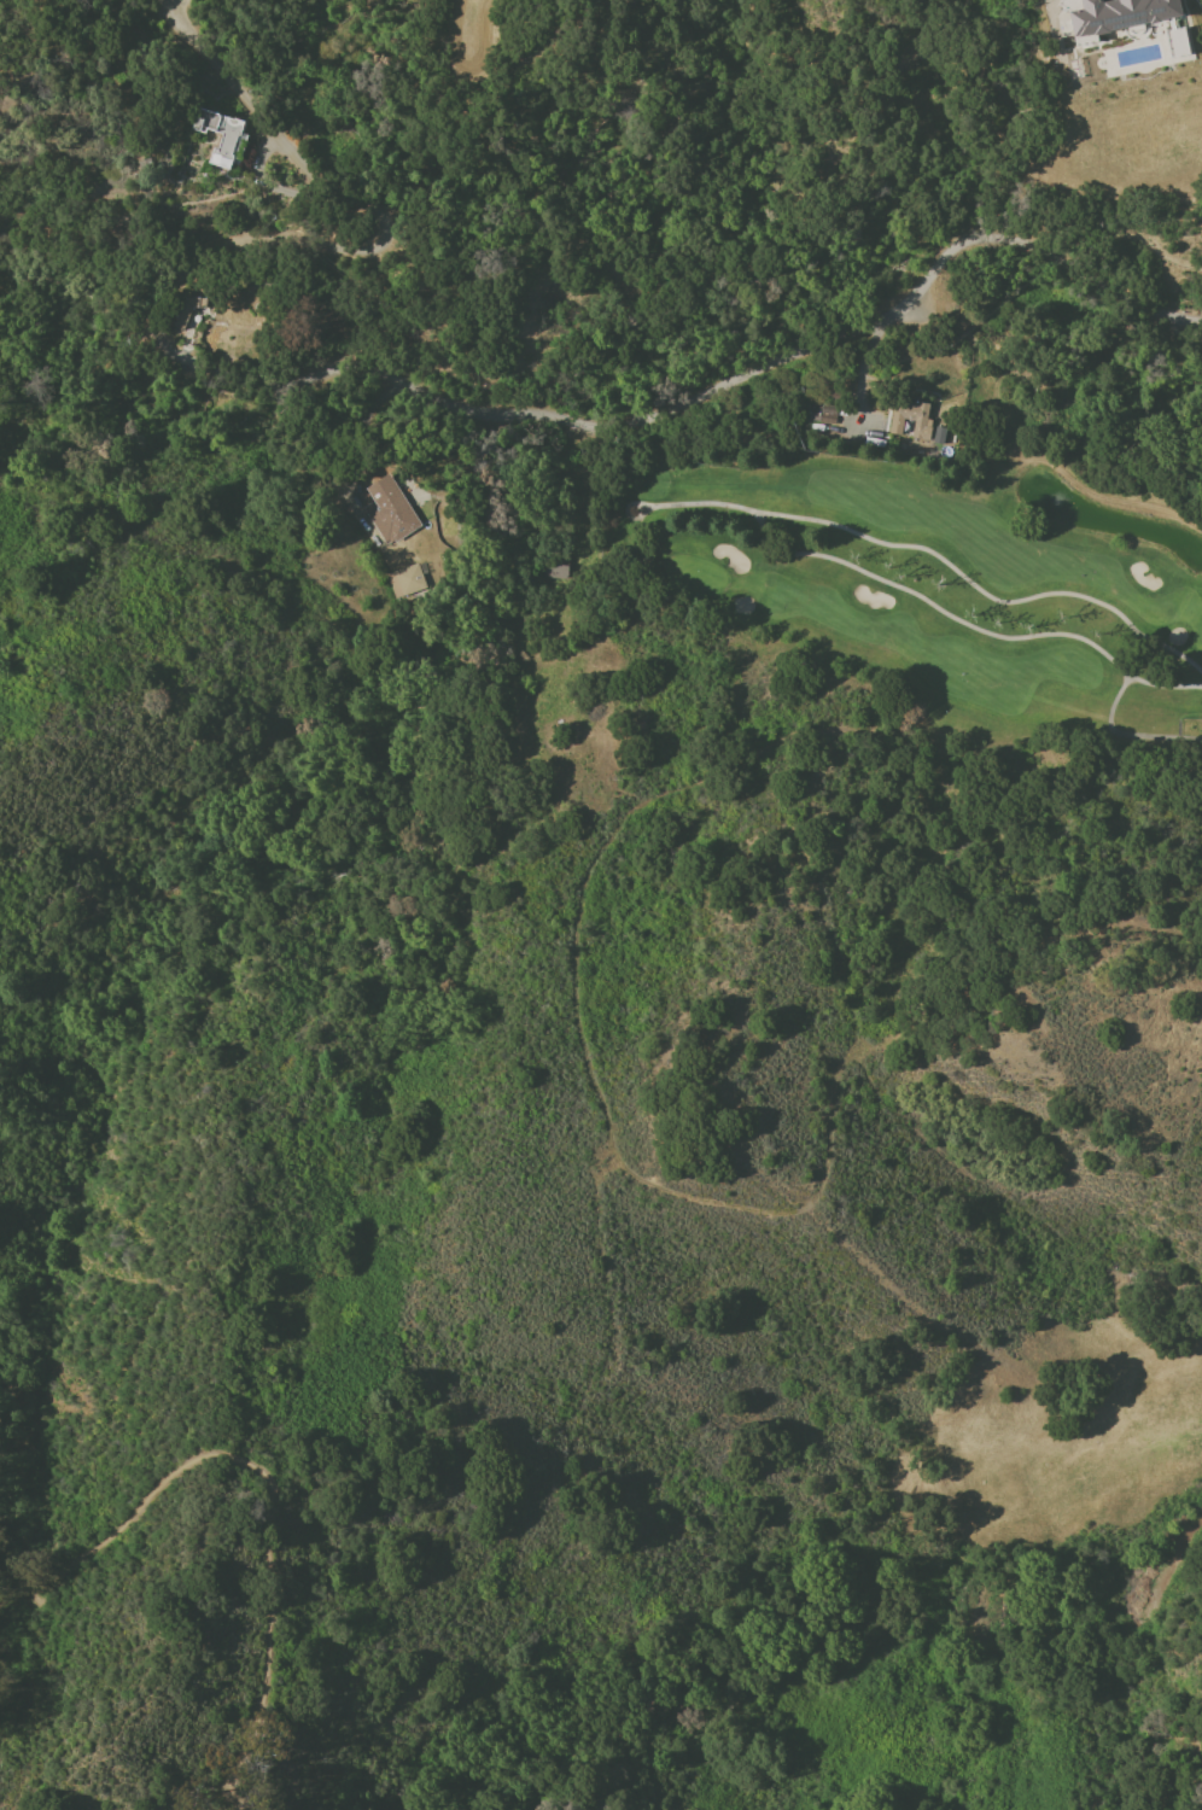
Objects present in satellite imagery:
building: (1072, 4)
building: (1121, 14)
road: (939, 19)
building: (1175, 42)
building: (232, 140)
road: (1011, 192)
road: (507, 208)
building: (186, 311)
road: (1197, 319)
road: (747, 351)
road: (766, 357)
road: (387, 380)
building: (910, 420)
building: (391, 507)
park: (930, 583)
road: (263, 1482)

